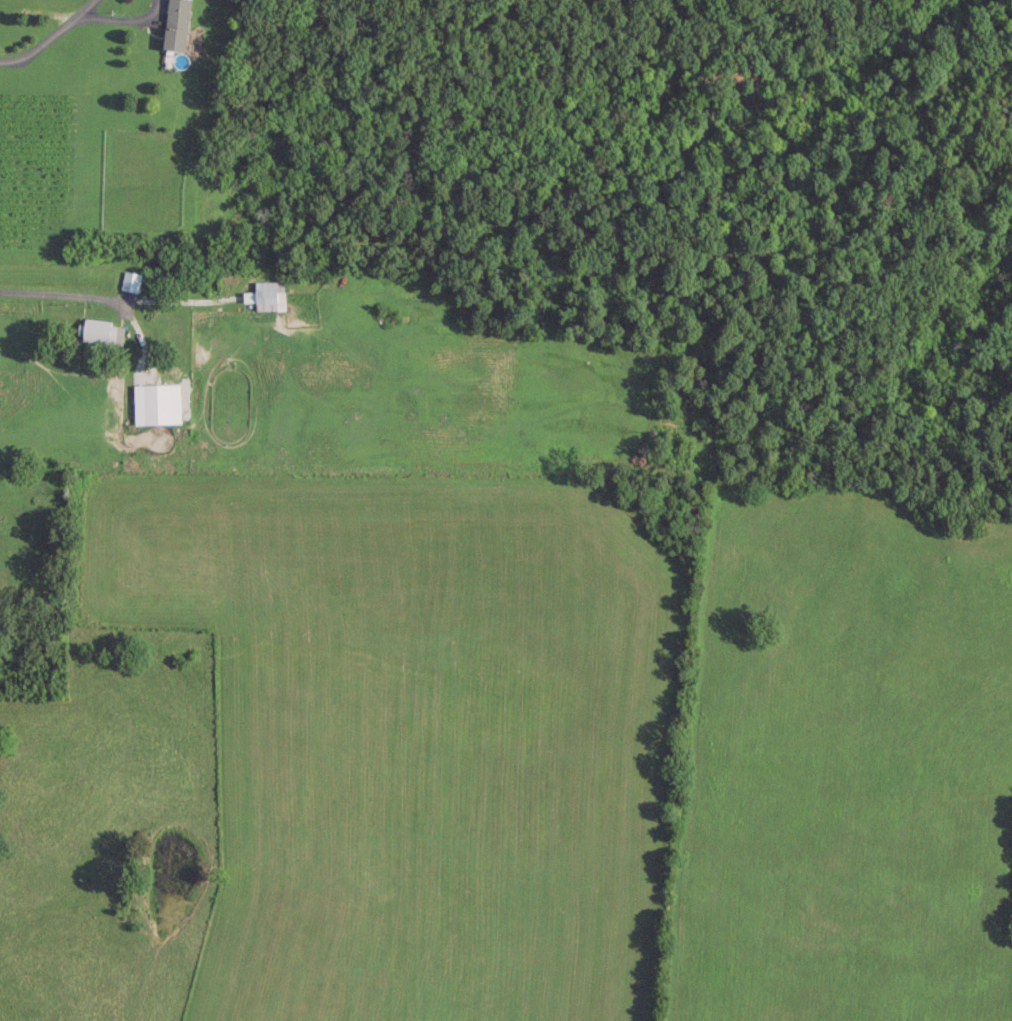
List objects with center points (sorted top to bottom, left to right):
road: (86, 9)
road: (123, 22)
building: (174, 24)
road: (40, 46)
road: (100, 292)
building: (265, 294)
road: (175, 297)
building: (100, 331)
building: (160, 402)

